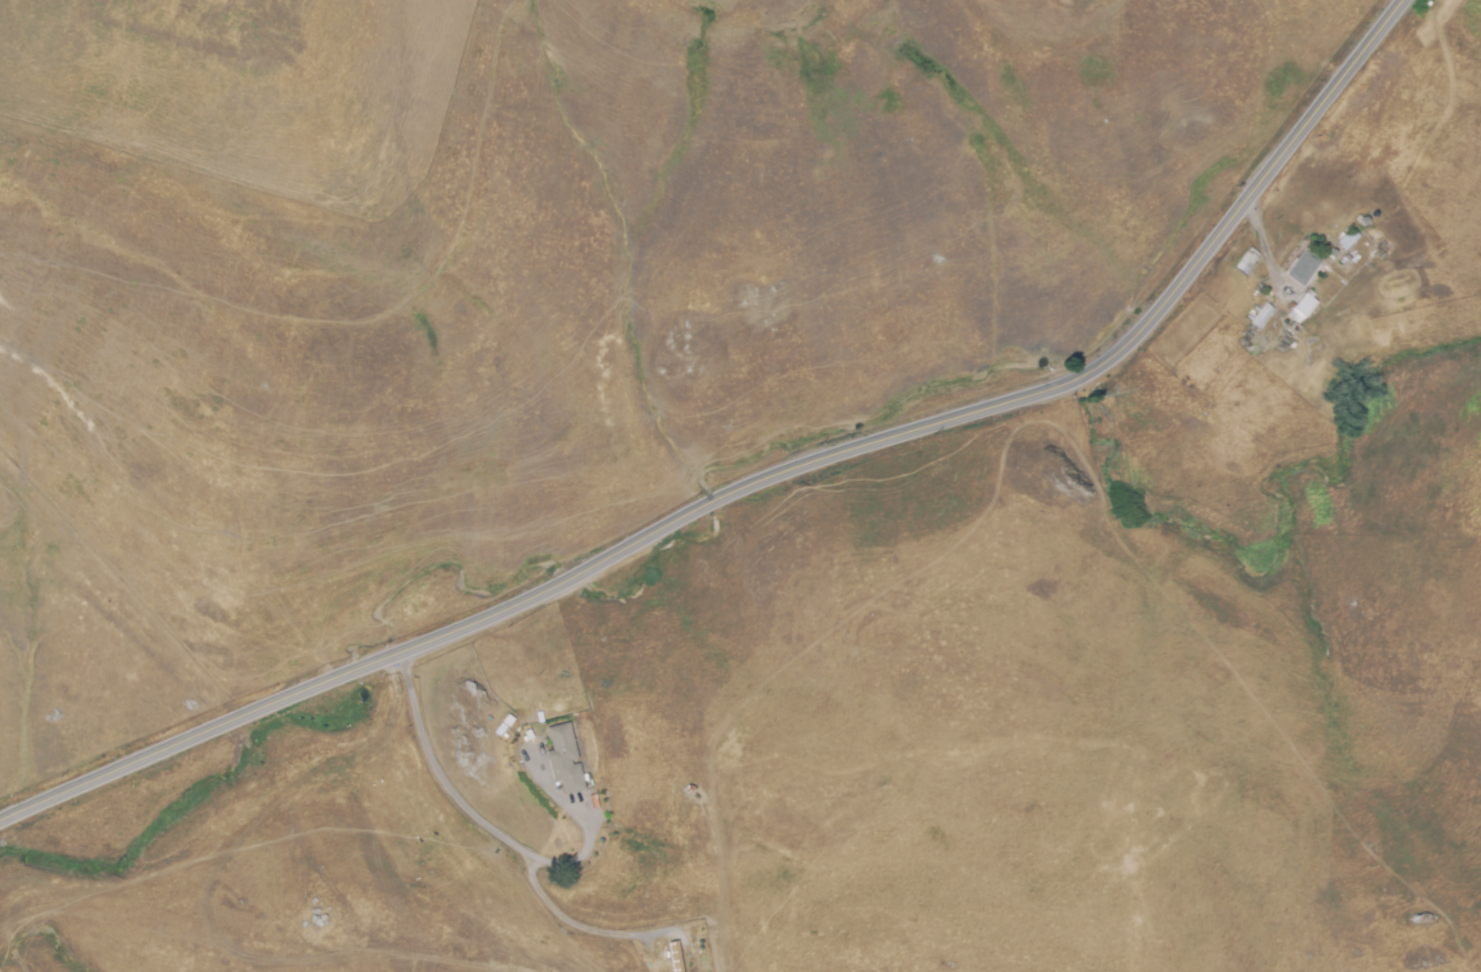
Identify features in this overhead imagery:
building: (1347, 240)
road: (1263, 241)
building: (1324, 248)
building: (1328, 258)
building: (1246, 262)
building: (1303, 268)
building: (1329, 275)
building: (1301, 309)
building: (1262, 317)
road: (758, 480)
building: (563, 765)
road: (499, 833)
road: (582, 927)
building: (674, 956)

